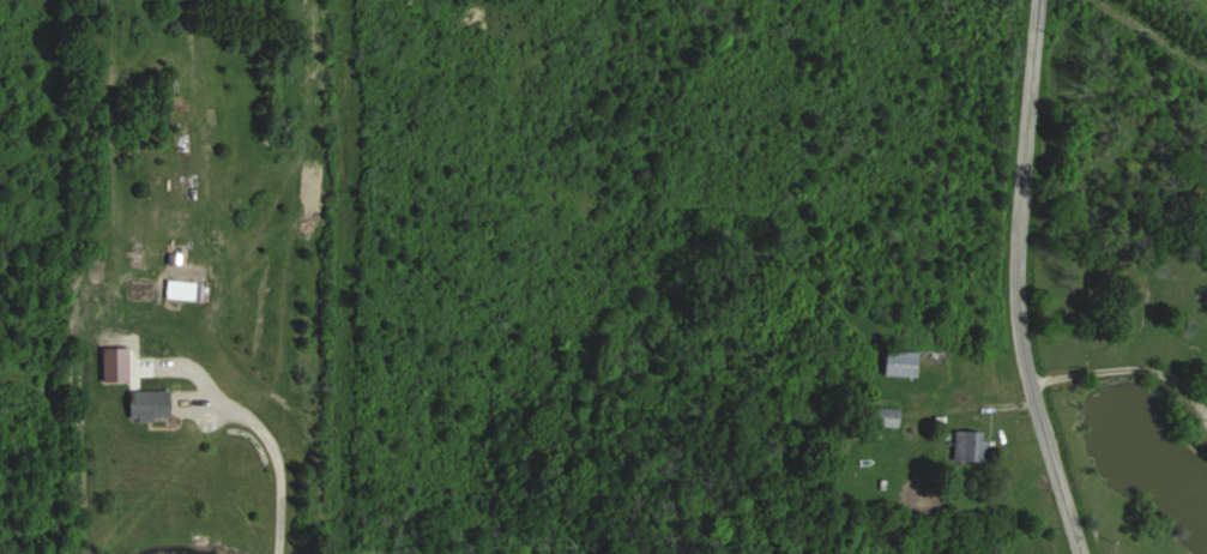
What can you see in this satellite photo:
road: (1016, 281)
building: (187, 289)
building: (906, 362)
road: (1129, 365)
building: (158, 404)
building: (893, 416)
building: (968, 445)
road: (268, 447)

